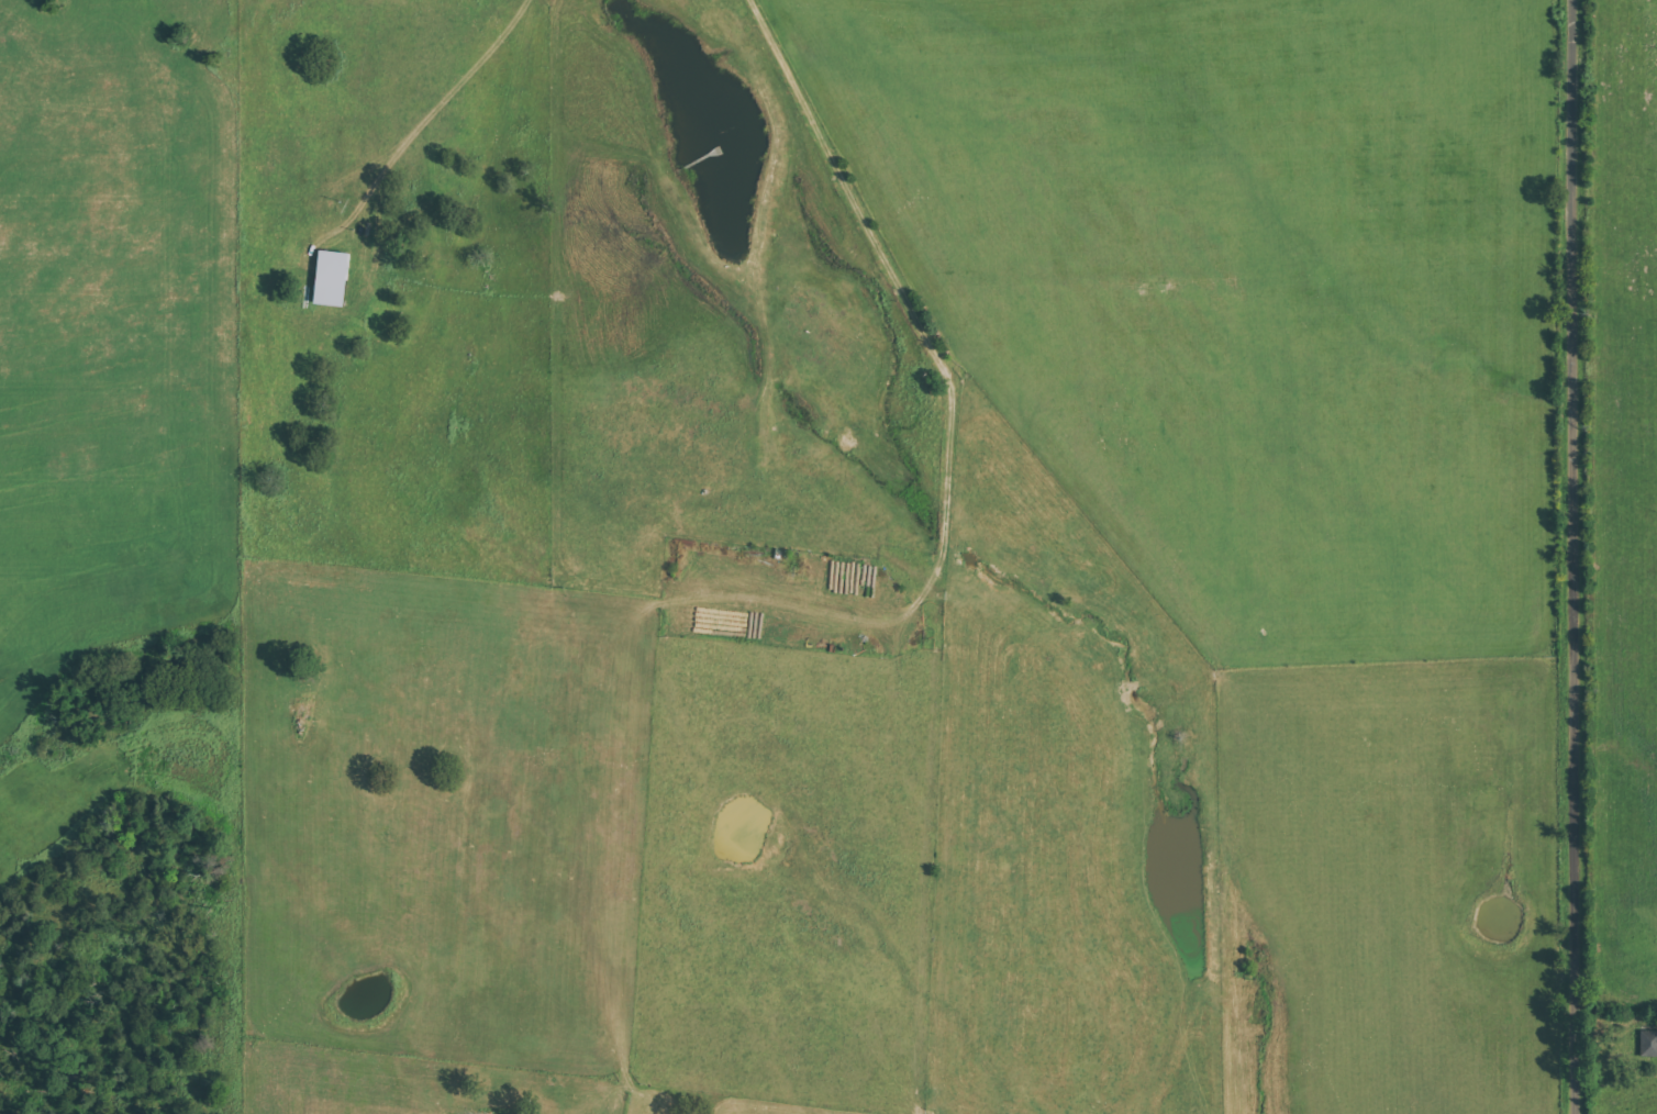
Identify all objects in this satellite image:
road: (1578, 556)
building: (1649, 1044)

